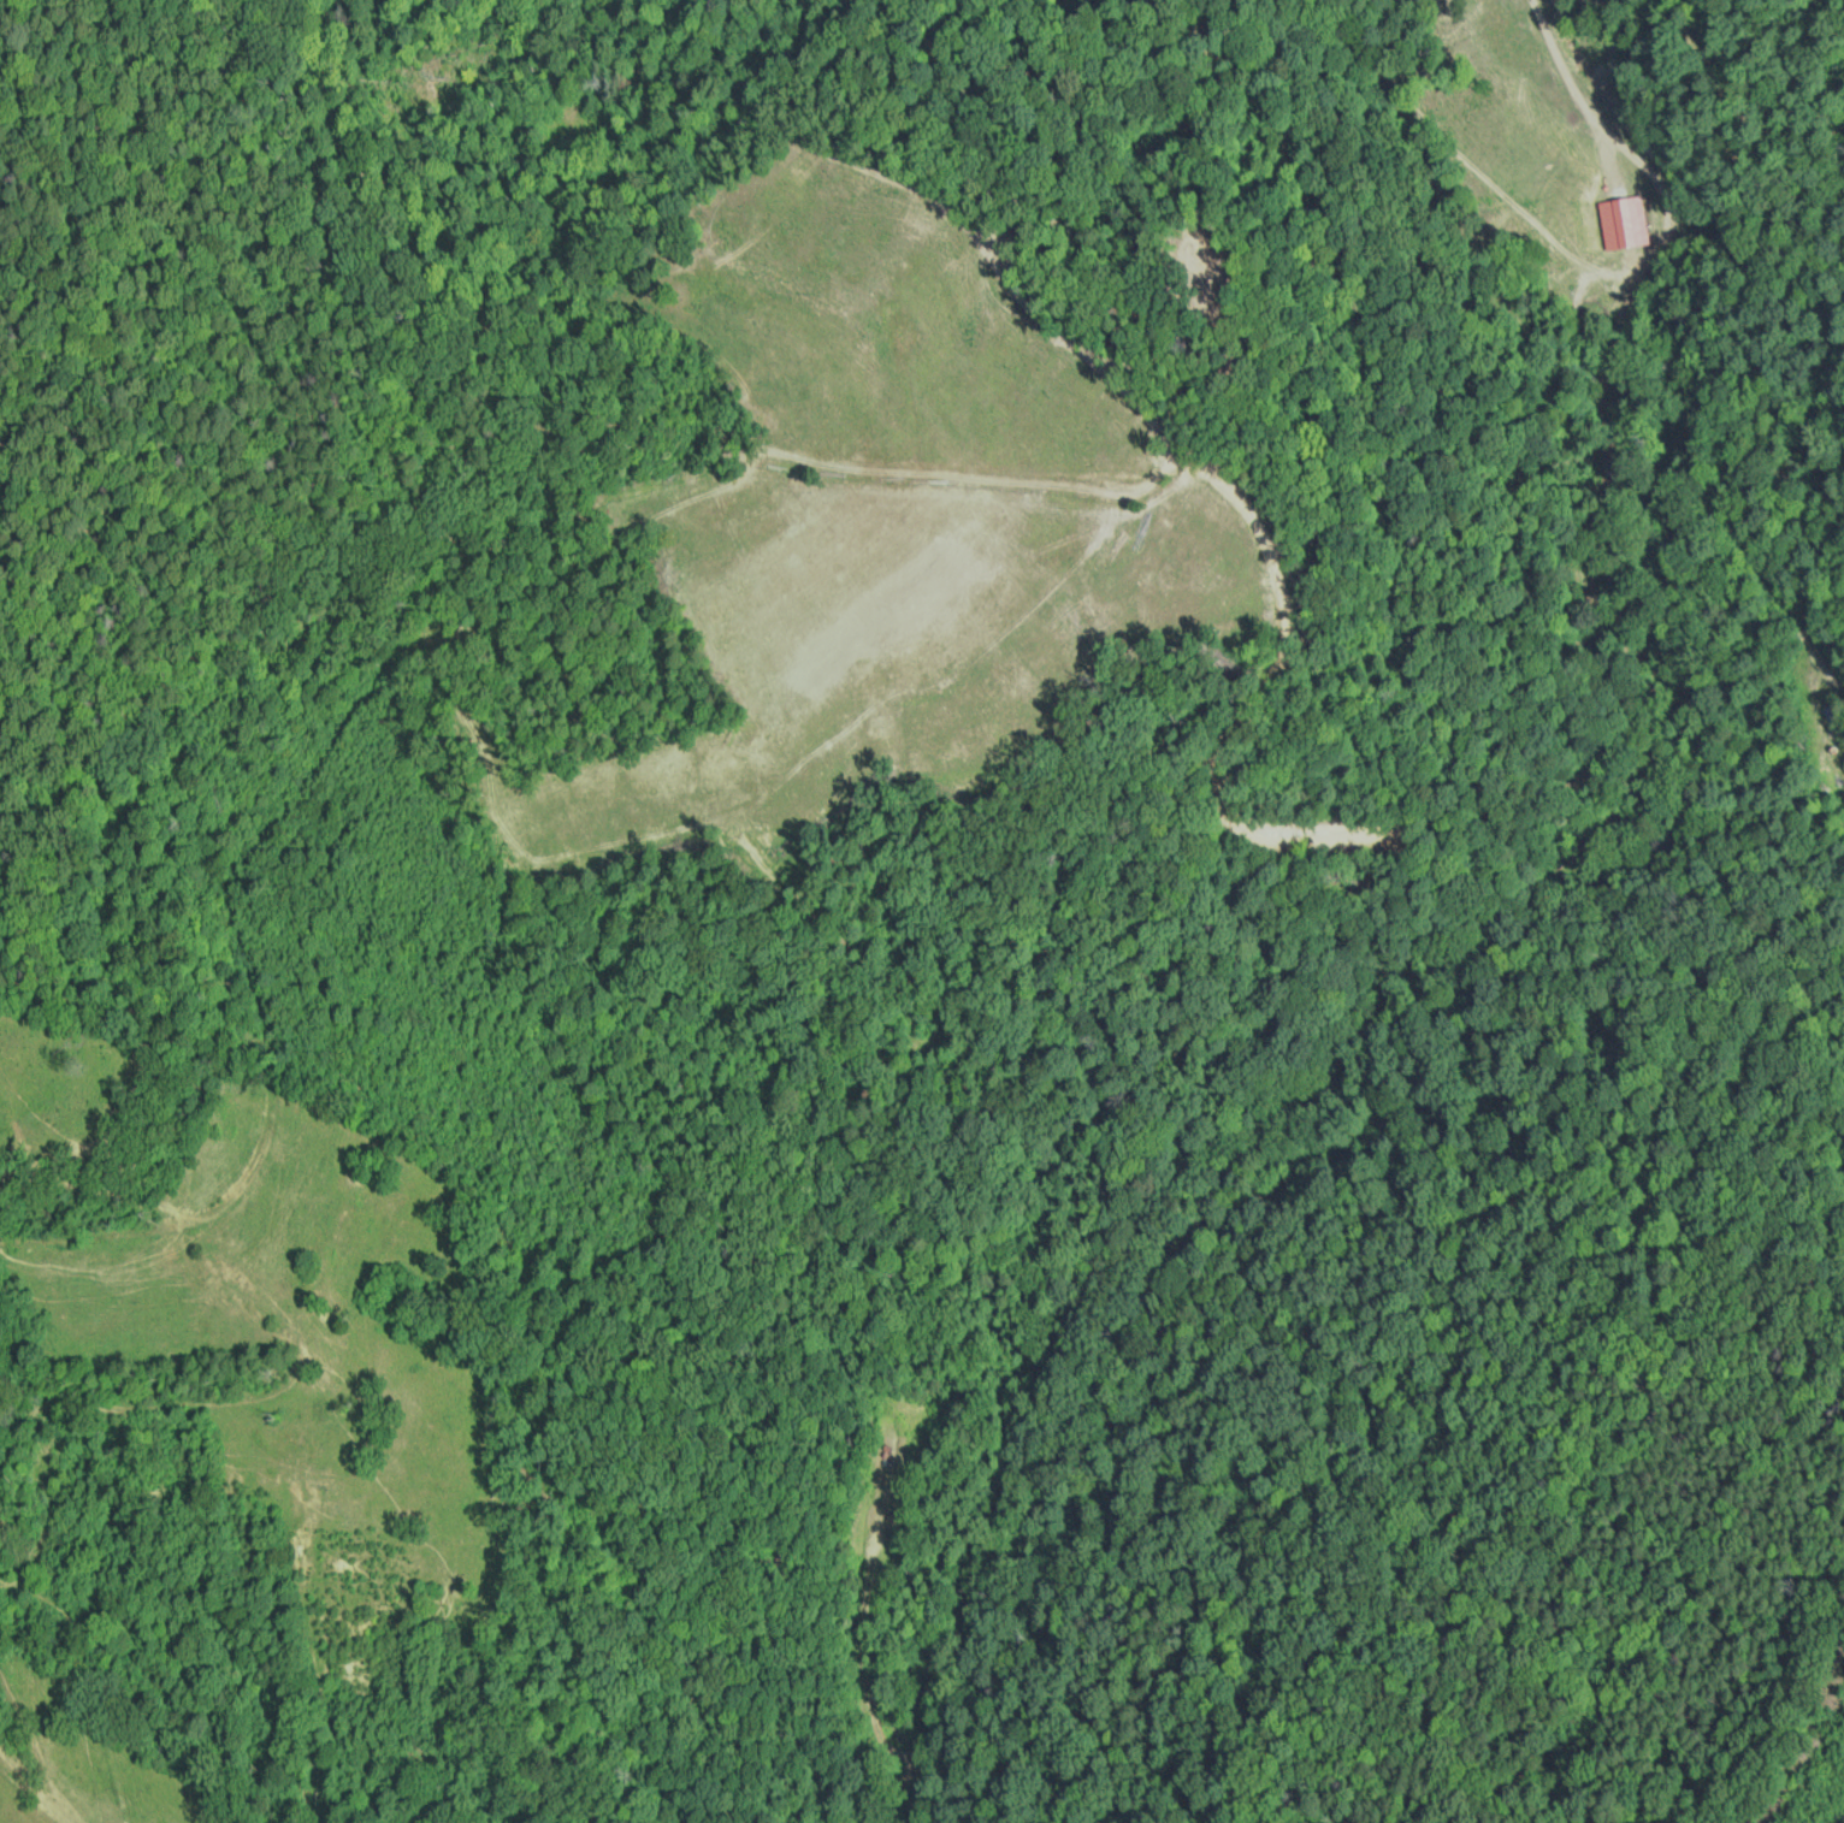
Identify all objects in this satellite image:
road: (1667, 371)

